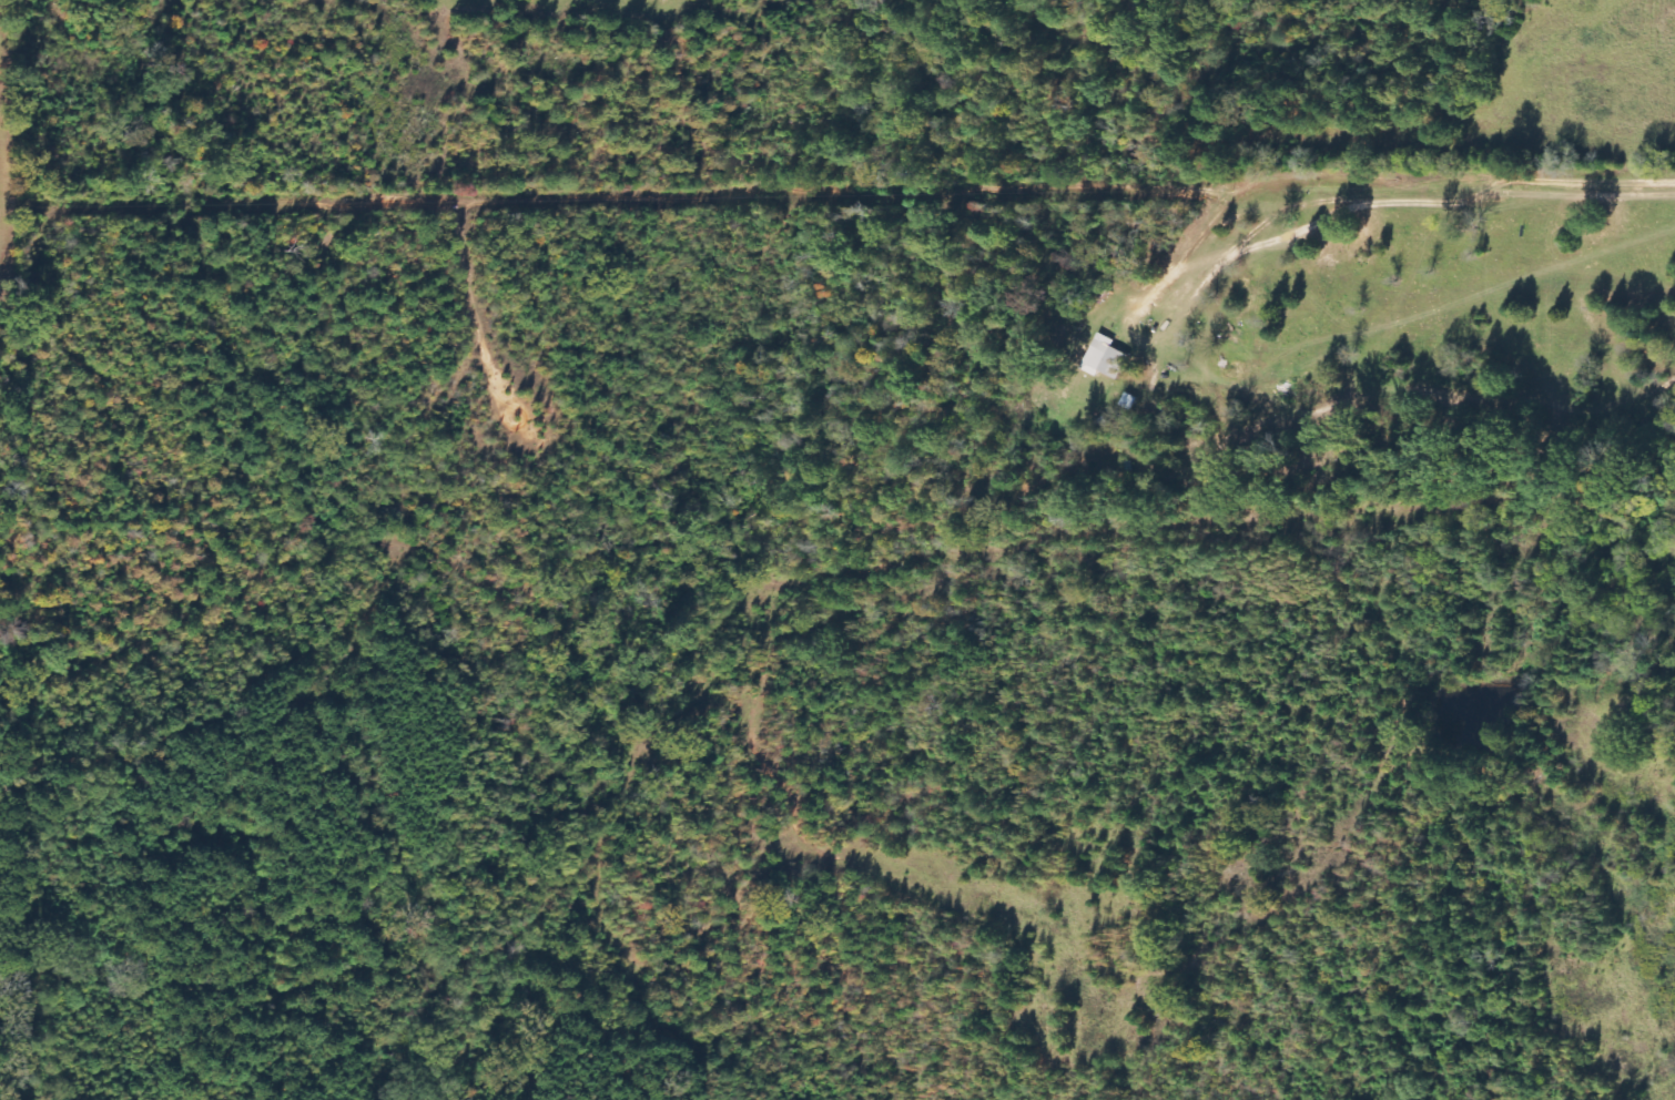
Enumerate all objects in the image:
road: (1379, 190)
building: (1105, 359)

